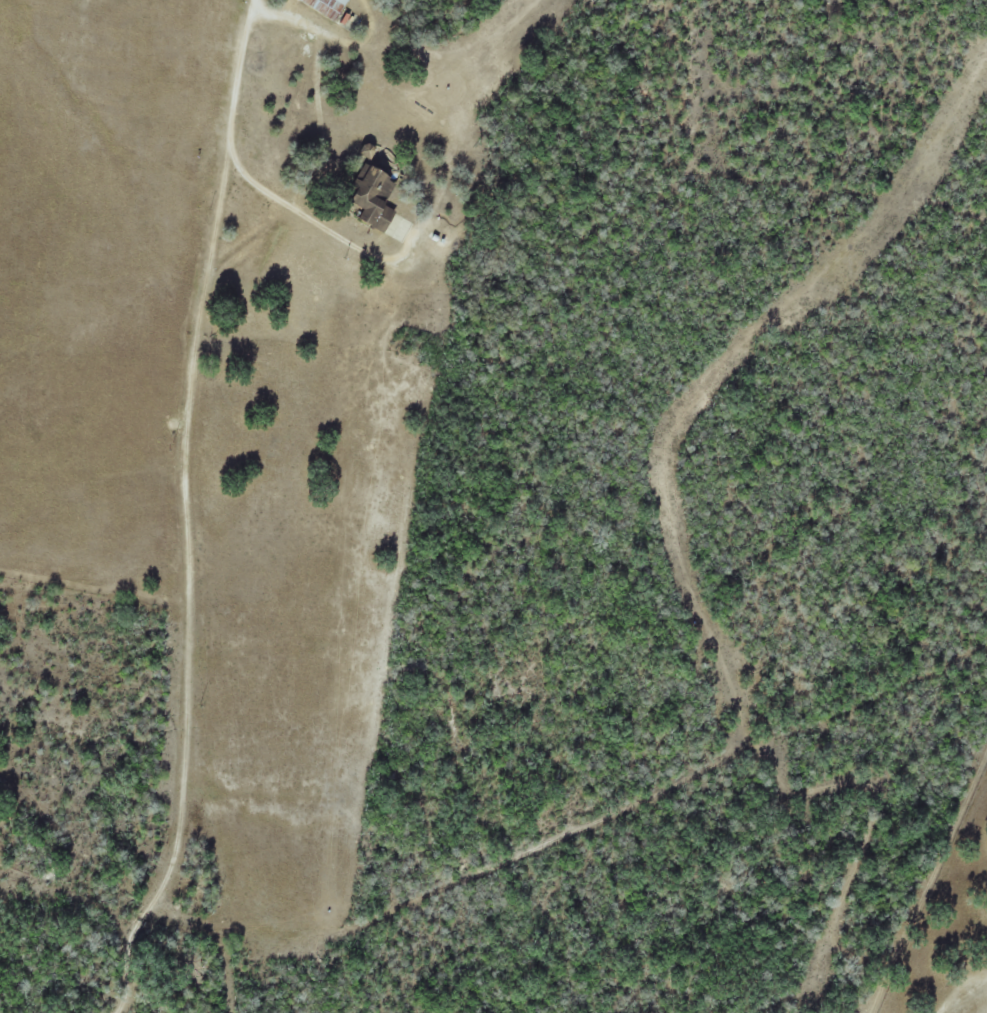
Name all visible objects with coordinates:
building: (326, 7)
building: (372, 198)
road: (214, 643)

